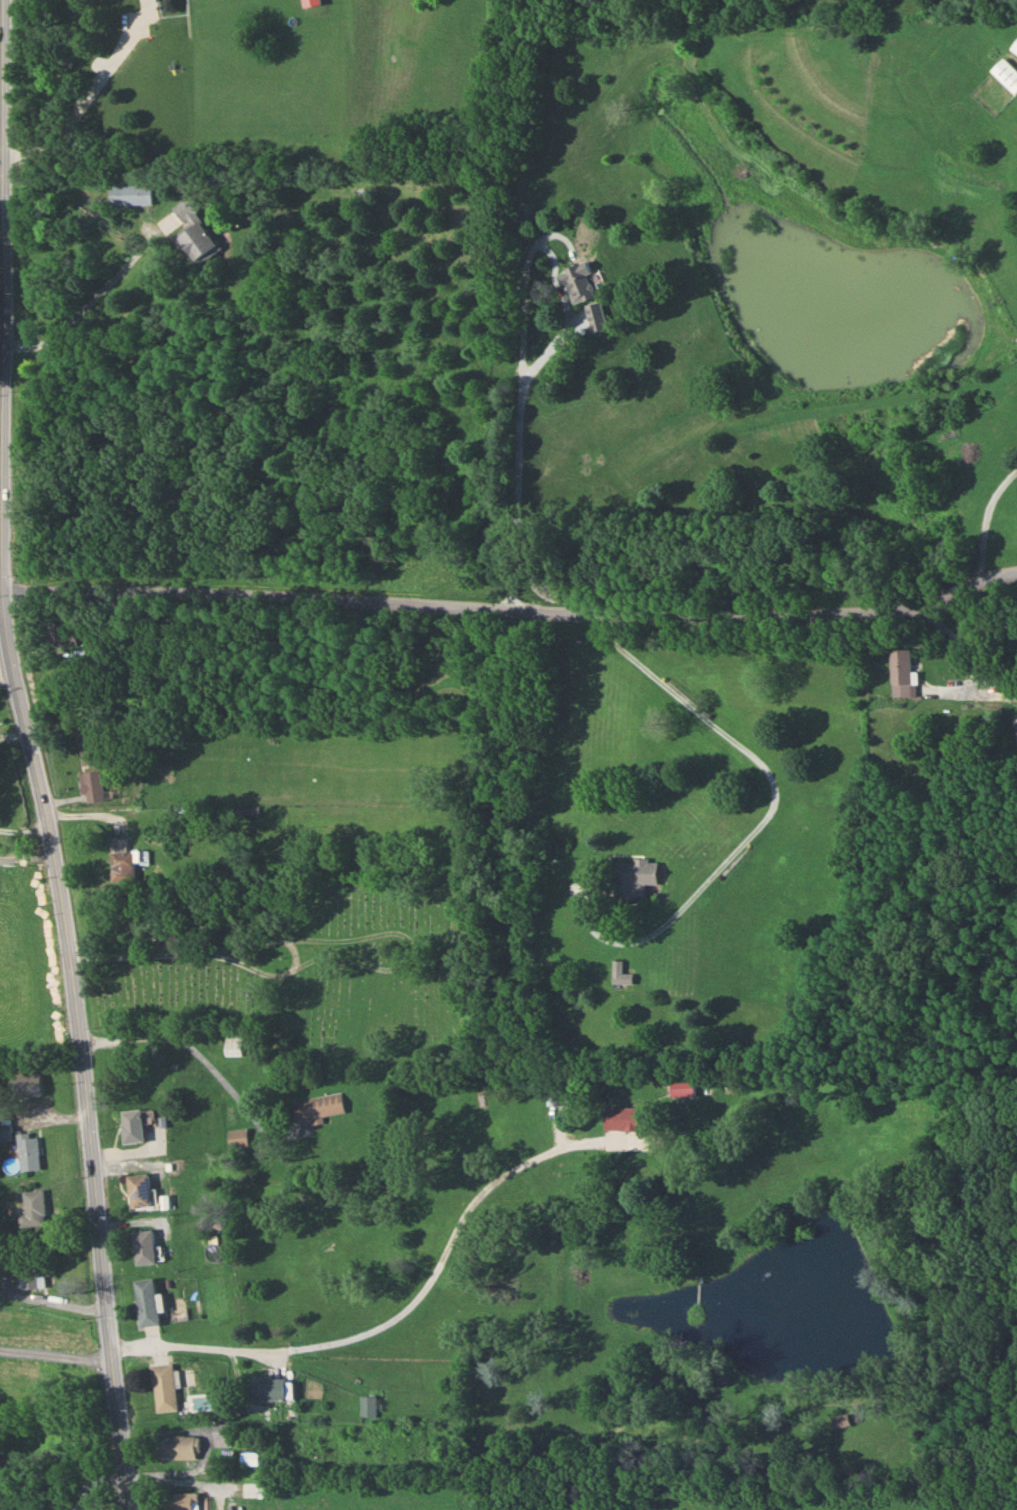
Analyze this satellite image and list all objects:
building: (1014, 45)
building: (1005, 74)
road: (83, 101)
building: (129, 194)
building: (193, 234)
building: (576, 283)
road: (94, 301)
building: (594, 316)
road: (523, 456)
road: (3, 464)
road: (6, 515)
road: (987, 524)
road: (513, 606)
building: (57, 634)
building: (899, 672)
building: (1015, 730)
building: (89, 773)
road: (777, 805)
road: (24, 828)
road: (28, 858)
building: (122, 864)
building: (633, 876)
building: (619, 973)
building: (233, 1042)
road: (206, 1058)
building: (144, 1082)
building: (557, 1093)
building: (317, 1105)
building: (625, 1117)
building: (130, 1125)
building: (5, 1131)
building: (236, 1136)
building: (27, 1149)
building: (137, 1190)
building: (32, 1206)
building: (143, 1246)
road: (104, 1266)
building: (34, 1273)
building: (146, 1301)
road: (397, 1317)
road: (57, 1351)
building: (162, 1386)
building: (268, 1387)
building: (367, 1404)
building: (840, 1420)
building: (222, 1433)
building: (176, 1446)
building: (249, 1458)
building: (212, 1467)
road: (185, 1482)
building: (265, 1489)
building: (177, 1500)
building: (64, 1506)

